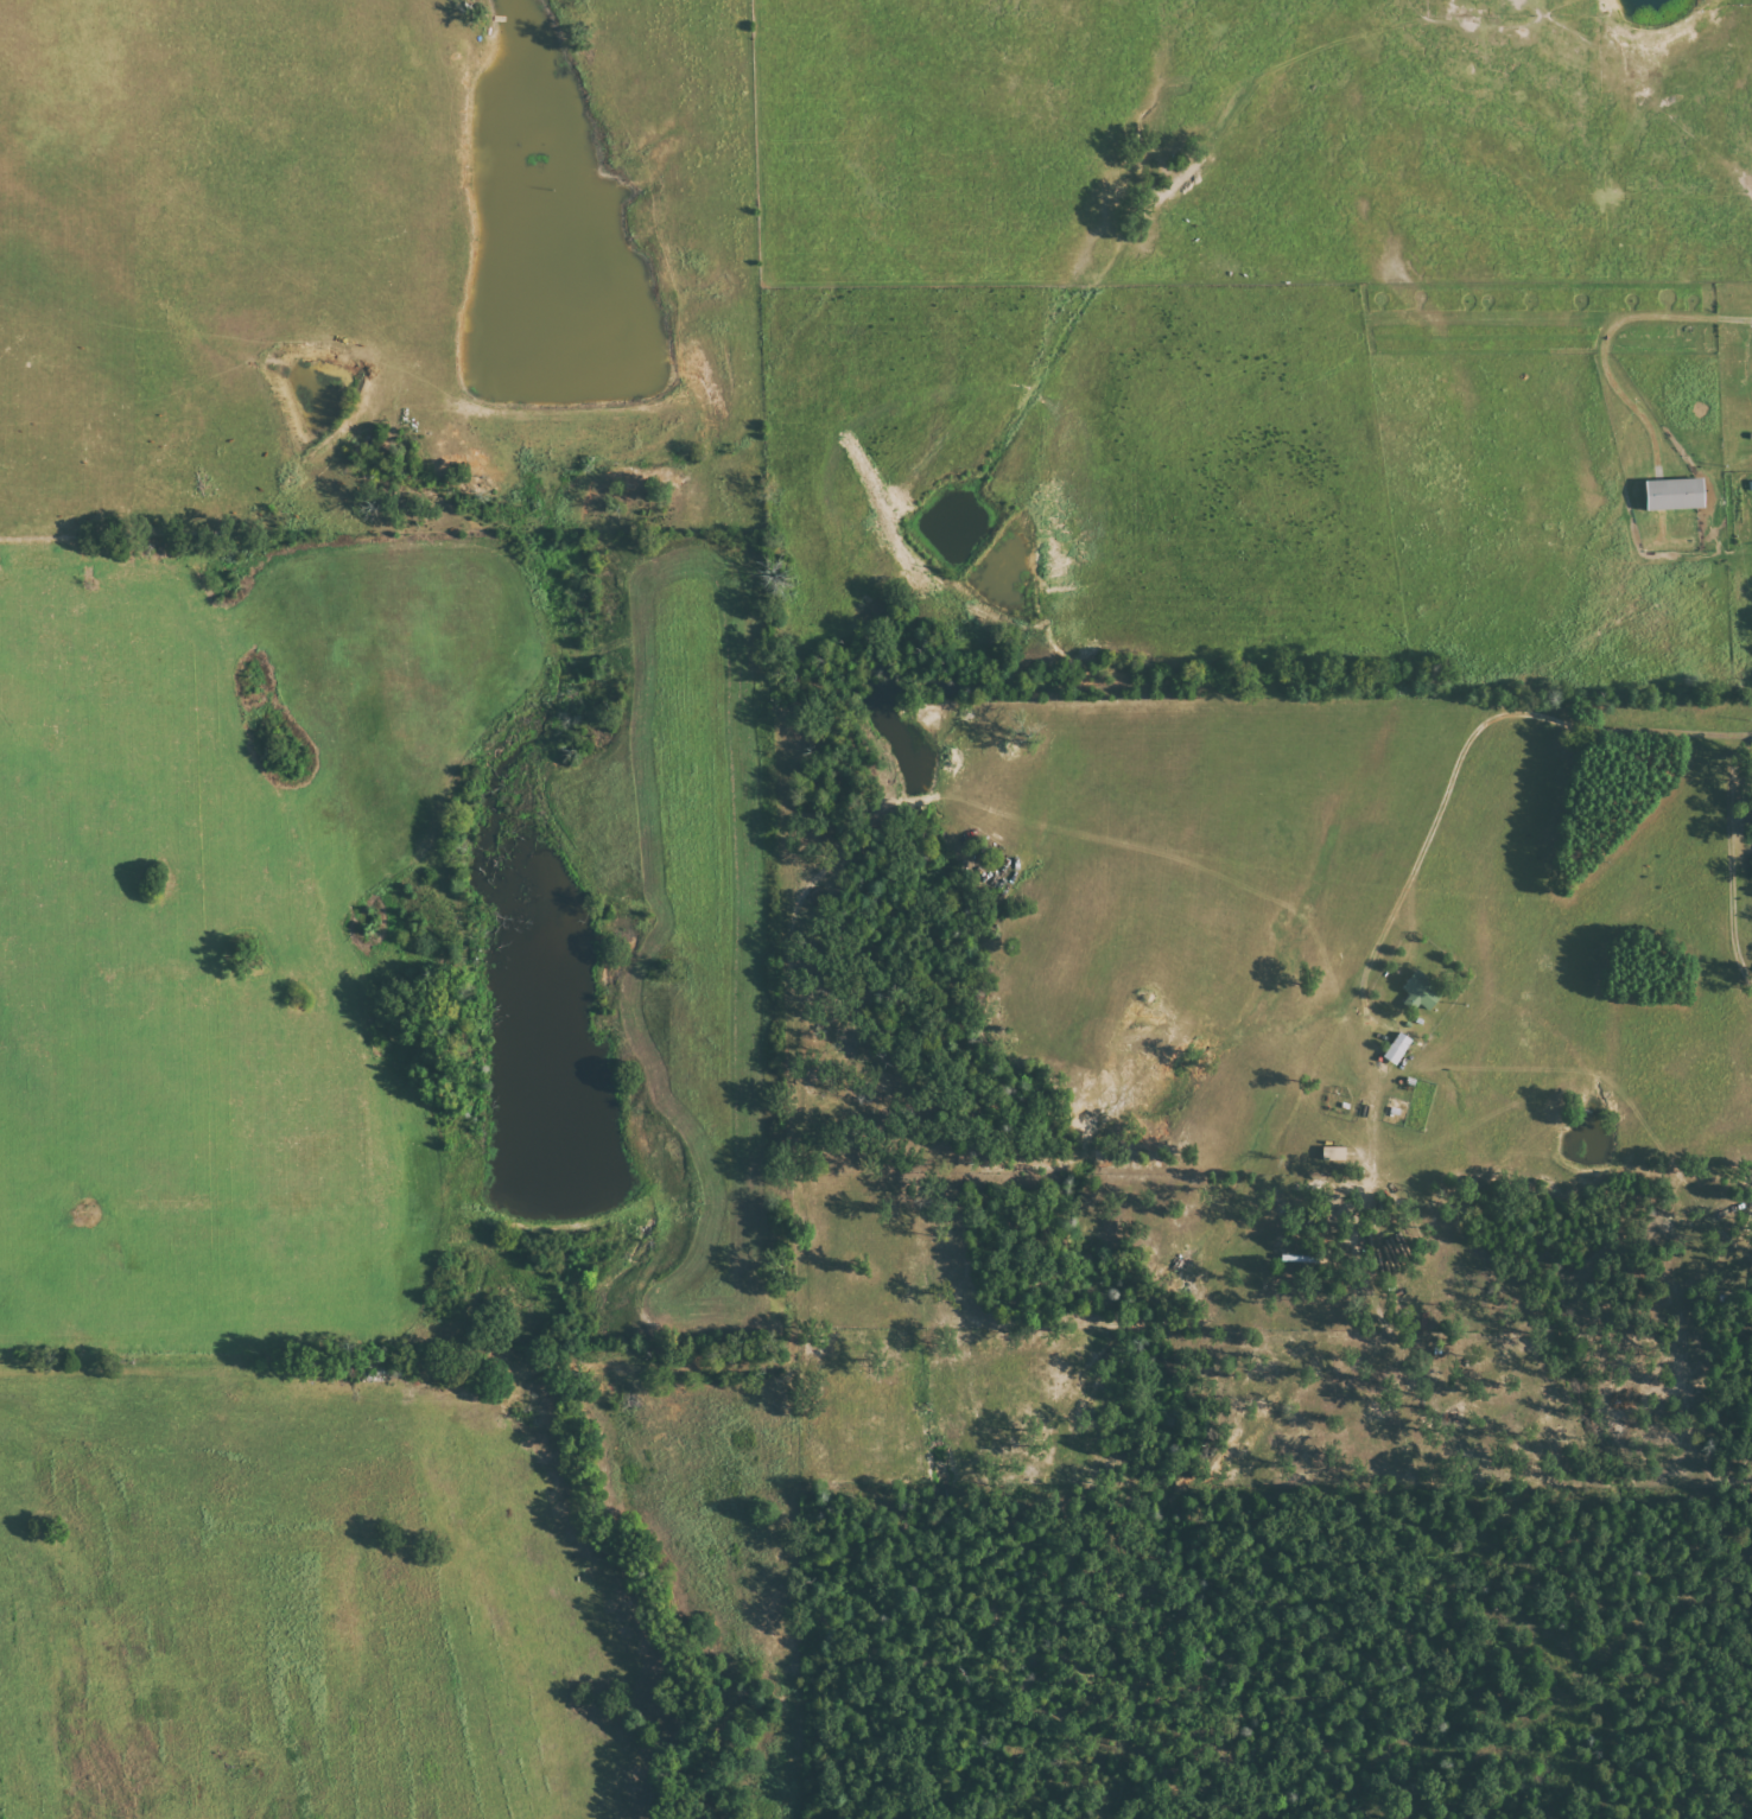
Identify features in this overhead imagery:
building: (1675, 495)
building: (1423, 990)
building: (1398, 1048)
building: (1334, 1153)

